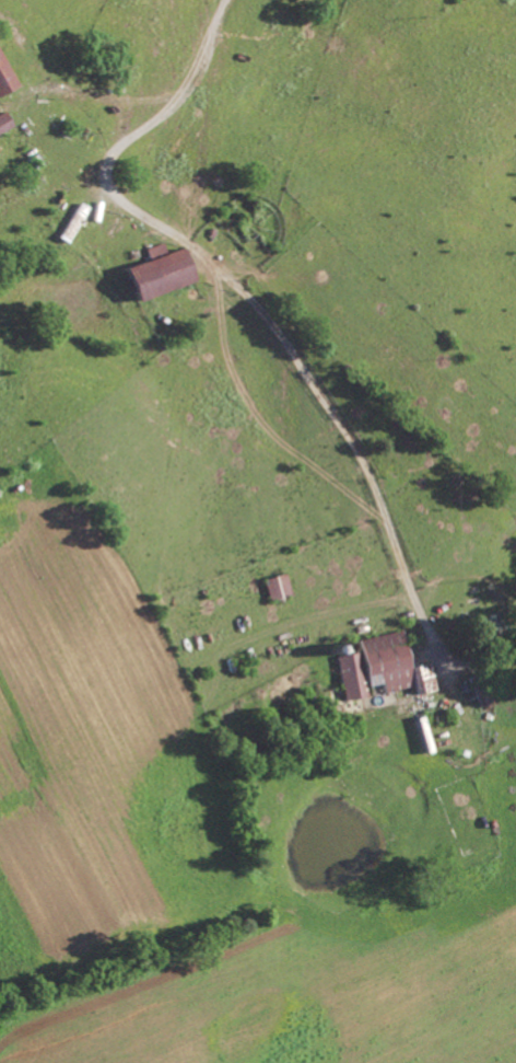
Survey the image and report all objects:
building: (3, 81)
building: (3, 123)
building: (154, 274)
road: (235, 286)
building: (483, 626)
building: (379, 669)

